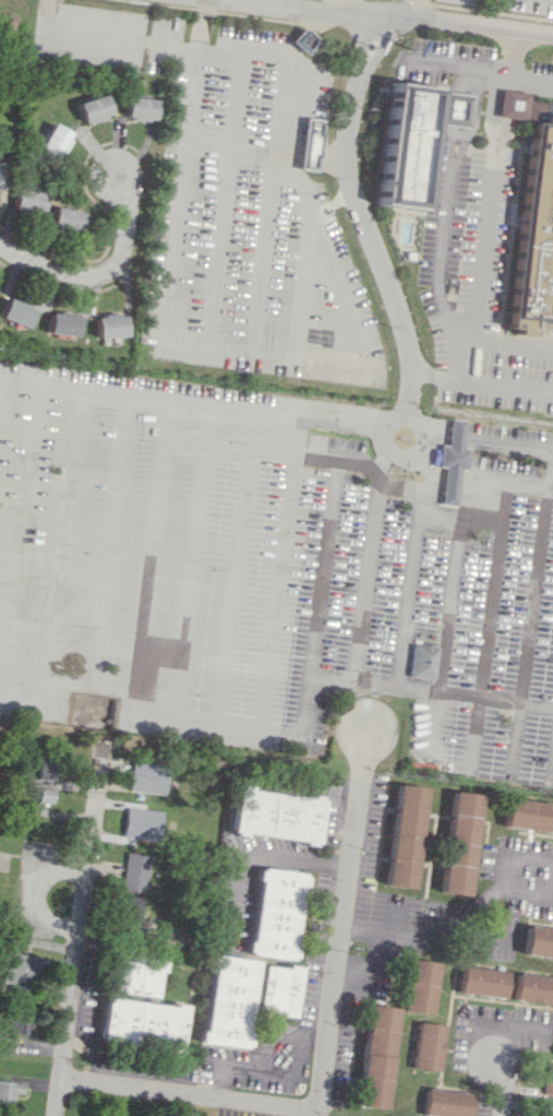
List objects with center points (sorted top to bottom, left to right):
road: (49, 0)
parking lot: (516, 4)
road: (360, 8)
road: (418, 9)
road: (47, 15)
road: (397, 16)
building: (7, 21)
road: (324, 23)
road: (200, 27)
road: (121, 39)
building: (303, 39)
road: (304, 39)
road: (298, 46)
road: (360, 47)
road: (294, 50)
road: (378, 50)
road: (515, 52)
parking lot: (440, 59)
road: (476, 68)
road: (461, 79)
parking lot: (541, 79)
road: (512, 83)
road: (510, 104)
building: (513, 104)
building: (139, 107)
building: (92, 108)
road: (452, 108)
building: (454, 108)
road: (492, 112)
road: (473, 114)
road: (506, 133)
road: (492, 135)
road: (464, 139)
building: (52, 140)
road: (450, 141)
building: (310, 144)
building: (406, 145)
road: (230, 146)
road: (277, 150)
road: (296, 151)
road: (501, 153)
road: (457, 154)
road: (322, 155)
road: (339, 157)
road: (493, 157)
road: (452, 158)
road: (294, 159)
road: (322, 161)
building: (2, 174)
parking lot: (233, 197)
building: (26, 200)
road: (220, 201)
building: (64, 221)
building: (534, 227)
road: (373, 249)
road: (120, 252)
building: (408, 254)
road: (441, 257)
road: (24, 260)
parking lot: (476, 285)
road: (477, 293)
building: (14, 311)
road: (347, 320)
building: (61, 323)
building: (108, 325)
road: (188, 341)
road: (469, 358)
road: (438, 375)
road: (509, 384)
road: (64, 389)
road: (257, 411)
road: (252, 422)
road: (386, 425)
road: (552, 451)
road: (250, 452)
building: (454, 460)
road: (384, 463)
road: (356, 465)
road: (551, 477)
road: (440, 515)
road: (21, 539)
road: (110, 543)
road: (65, 544)
parking lot: (274, 567)
road: (366, 579)
road: (190, 582)
road: (235, 587)
road: (275, 592)
road: (410, 594)
road: (532, 625)
road: (489, 629)
road: (445, 637)
building: (422, 661)
road: (91, 688)
road: (429, 690)
road: (23, 694)
road: (216, 721)
building: (47, 767)
building: (147, 776)
building: (46, 795)
building: (276, 815)
building: (528, 815)
building: (142, 822)
building: (406, 835)
building: (459, 843)
road: (515, 858)
road: (317, 862)
road: (237, 867)
building: (135, 871)
road: (530, 894)
building: (132, 911)
building: (277, 913)
road: (342, 922)
road: (423, 929)
road: (79, 930)
road: (479, 933)
building: (538, 941)
road: (370, 964)
building: (21, 969)
building: (137, 975)
building: (482, 982)
building: (421, 986)
building: (533, 988)
building: (279, 989)
building: (230, 1001)
building: (21, 1019)
building: (143, 1023)
building: (429, 1046)
building: (377, 1056)
road: (275, 1069)
building: (548, 1079)
road: (498, 1087)
building: (10, 1091)
road: (188, 1094)
building: (446, 1103)
building: (545, 1111)

